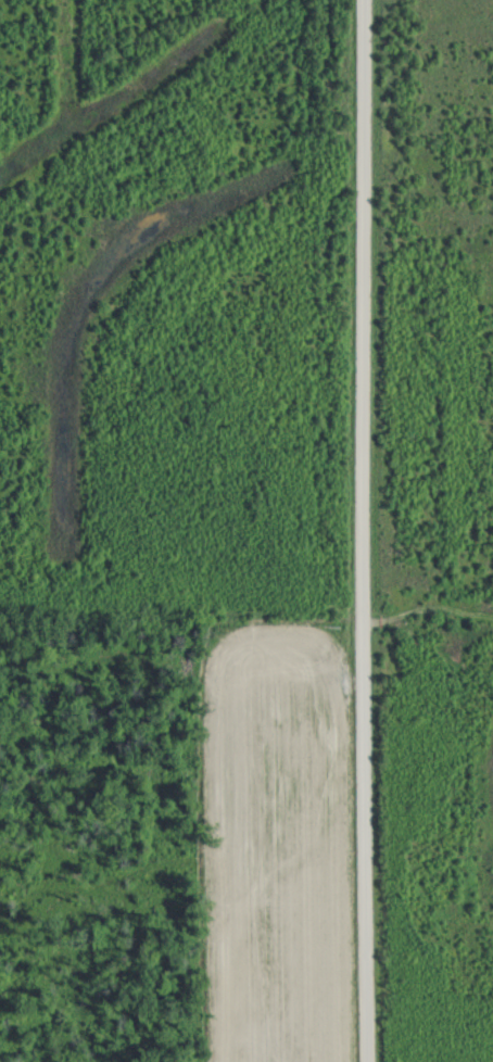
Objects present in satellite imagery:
road: (357, 530)

